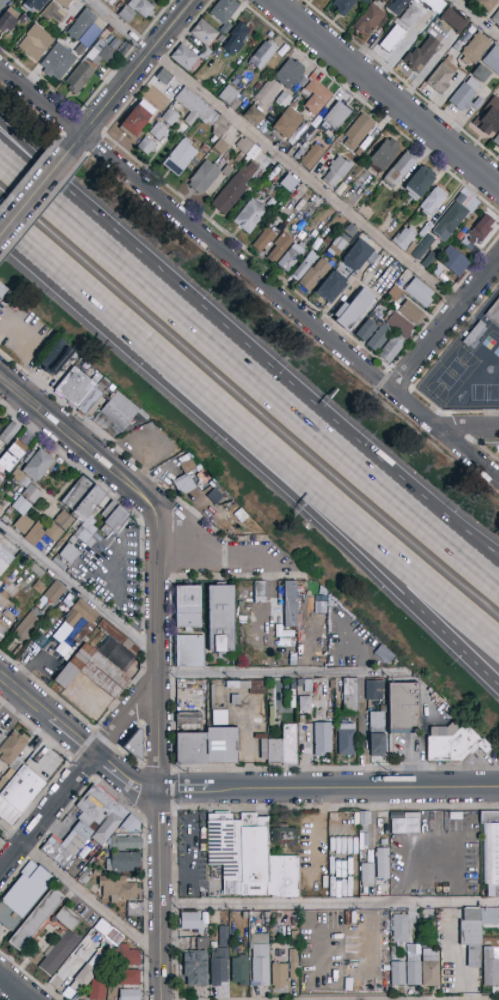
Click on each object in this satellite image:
building: (391, 0)
building: (105, 1)
building: (367, 1)
building: (3, 3)
building: (63, 3)
building: (34, 4)
building: (435, 5)
building: (487, 5)
building: (344, 6)
building: (398, 6)
building: (141, 7)
building: (53, 13)
building: (224, 13)
building: (126, 14)
building: (412, 15)
building: (496, 17)
building: (370, 18)
road: (475, 18)
building: (454, 19)
building: (8, 20)
building: (81, 25)
building: (470, 31)
building: (204, 33)
building: (236, 37)
building: (392, 39)
building: (36, 43)
building: (458, 43)
building: (475, 48)
building: (81, 49)
building: (378, 50)
building: (263, 54)
building: (421, 54)
building: (184, 57)
building: (493, 59)
building: (450, 60)
building: (58, 62)
building: (89, 66)
road: (133, 72)
building: (290, 73)
building: (481, 73)
building: (164, 77)
building: (441, 77)
building: (236, 83)
building: (300, 83)
road: (385, 92)
building: (267, 93)
building: (228, 95)
building: (315, 95)
building: (466, 96)
building: (284, 99)
building: (495, 100)
building: (164, 106)
building: (195, 108)
building: (254, 115)
building: (335, 116)
building: (170, 117)
building: (136, 120)
building: (489, 121)
building: (288, 123)
building: (220, 127)
building: (159, 131)
building: (358, 131)
building: (309, 134)
building: (496, 140)
building: (146, 145)
building: (244, 145)
building: (220, 147)
building: (302, 147)
building: (363, 147)
building: (253, 152)
road: (275, 153)
building: (384, 155)
building: (180, 157)
building: (239, 157)
building: (311, 157)
building: (399, 169)
building: (337, 171)
building: (209, 178)
building: (288, 183)
building: (419, 183)
building: (234, 189)
road: (37, 191)
building: (461, 199)
building: (433, 202)
road: (77, 207)
building: (250, 216)
building: (450, 221)
building: (425, 230)
building: (480, 230)
building: (302, 235)
building: (404, 238)
building: (264, 239)
building: (327, 240)
building: (342, 240)
building: (307, 242)
building: (316, 244)
building: (280, 247)
building: (423, 247)
building: (411, 249)
building: (473, 250)
building: (360, 254)
building: (291, 256)
building: (429, 259)
building: (453, 261)
building: (304, 266)
building: (437, 271)
road: (249, 272)
building: (314, 274)
building: (331, 287)
building: (2, 290)
building: (395, 293)
building: (419, 293)
building: (403, 296)
building: (354, 309)
building: (378, 311)
building: (411, 312)
building: (494, 314)
building: (399, 325)
road: (445, 325)
building: (367, 330)
building: (475, 335)
building: (379, 338)
road: (157, 349)
building: (392, 349)
building: (54, 356)
road: (249, 373)
building: (88, 390)
building: (124, 411)
road: (468, 428)
building: (9, 433)
road: (80, 446)
building: (14, 461)
building: (181, 483)
building: (30, 486)
road: (408, 490)
building: (93, 497)
building: (121, 516)
building: (109, 517)
building: (50, 529)
building: (92, 537)
road: (362, 541)
building: (68, 553)
road: (211, 554)
building: (8, 559)
road: (407, 565)
building: (38, 588)
road: (77, 588)
building: (54, 592)
building: (259, 592)
building: (318, 598)
building: (287, 602)
building: (187, 607)
building: (296, 607)
building: (86, 617)
building: (220, 619)
building: (26, 627)
building: (4, 637)
road: (453, 640)
building: (189, 651)
road: (160, 652)
building: (99, 673)
road: (282, 673)
building: (308, 686)
building: (374, 690)
building: (350, 696)
building: (305, 705)
building: (412, 706)
building: (215, 716)
road: (361, 731)
building: (196, 734)
building: (377, 734)
building: (305, 736)
building: (322, 738)
building: (346, 739)
road: (75, 740)
building: (3, 741)
building: (227, 741)
building: (131, 744)
building: (457, 745)
building: (287, 751)
road: (81, 774)
road: (329, 790)
building: (24, 792)
building: (360, 816)
building: (106, 818)
building: (407, 828)
building: (284, 837)
building: (126, 843)
building: (491, 854)
building: (59, 855)
building: (242, 858)
building: (123, 862)
building: (383, 864)
building: (367, 875)
building: (287, 881)
building: (117, 887)
road: (78, 889)
road: (159, 895)
building: (24, 901)
road: (329, 904)
building: (30, 919)
building: (193, 921)
building: (474, 931)
building: (202, 943)
building: (61, 946)
building: (128, 956)
building: (221, 958)
building: (412, 958)
building: (260, 960)
building: (490, 967)
building: (195, 968)
building: (240, 971)
building: (284, 972)
building: (89, 976)
building: (129, 978)
road: (16, 986)
building: (129, 995)

